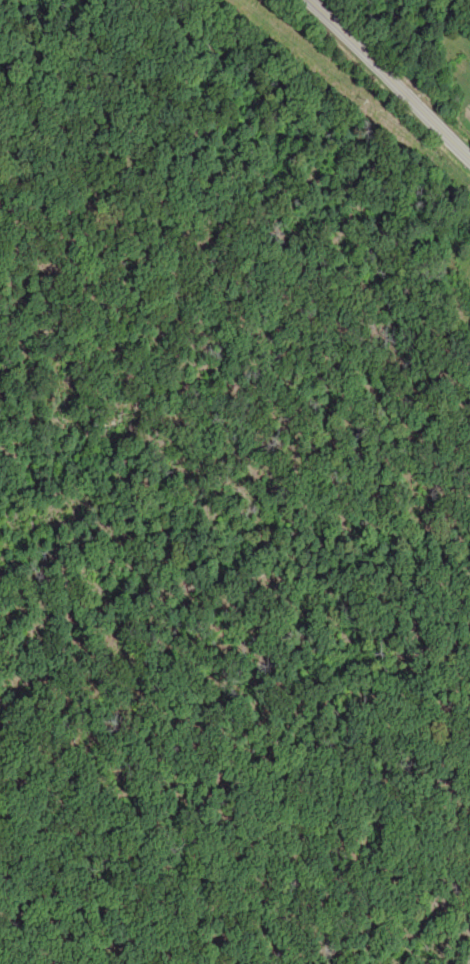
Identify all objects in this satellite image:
road: (391, 78)
park: (103, 480)

